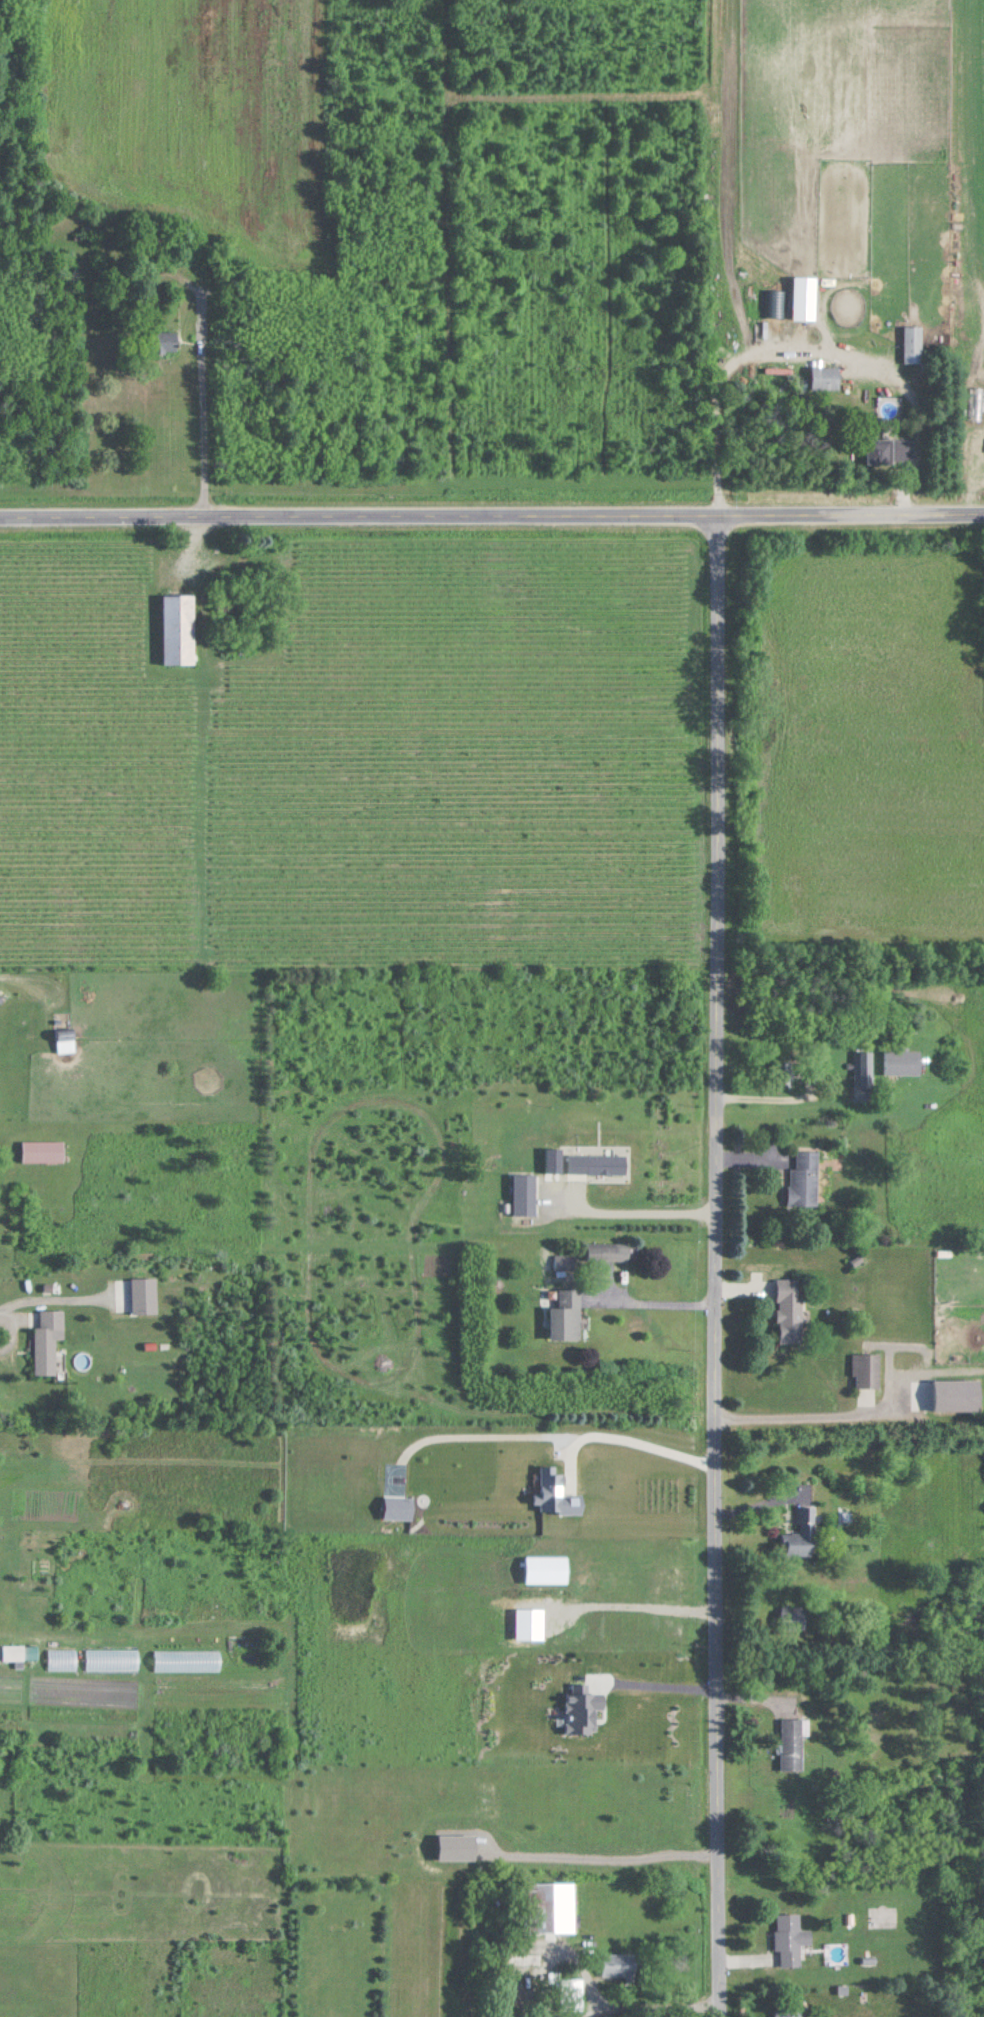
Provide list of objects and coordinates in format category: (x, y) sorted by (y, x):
building: (167, 341)
building: (915, 343)
building: (826, 377)
road: (715, 391)
road: (205, 402)
building: (892, 451)
road: (491, 507)
building: (180, 627)
building: (67, 1040)
building: (903, 1061)
building: (863, 1074)
road: (773, 1095)
building: (44, 1150)
building: (804, 1179)
building: (526, 1194)
road: (632, 1214)
building: (615, 1253)
road: (719, 1262)
road: (655, 1305)
building: (790, 1310)
building: (567, 1314)
road: (13, 1332)
building: (49, 1340)
building: (866, 1369)
road: (810, 1413)
road: (638, 1433)
building: (802, 1534)
road: (645, 1609)
building: (793, 1617)
building: (14, 1652)
building: (65, 1663)
road: (663, 1688)
building: (792, 1745)
road: (622, 1858)
building: (549, 1907)
building: (791, 1939)
building: (620, 1965)
road: (642, 2004)
building: (791, 2013)

